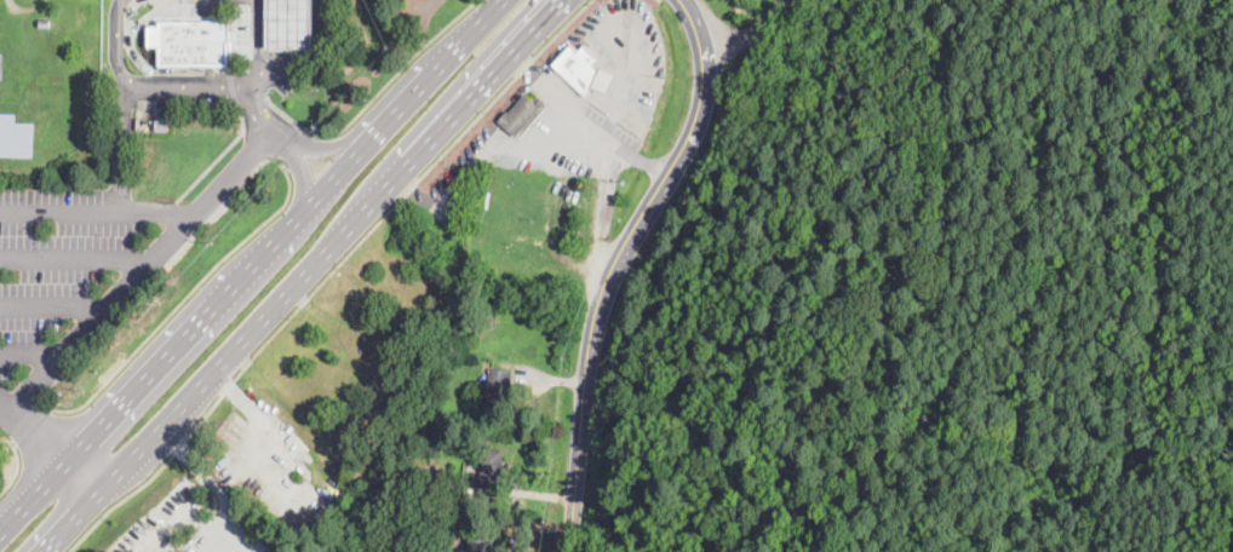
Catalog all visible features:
road: (494, 4)
road: (185, 7)
parking lot: (202, 8)
road: (130, 16)
building: (46, 23)
building: (292, 24)
parking lot: (245, 34)
road: (746, 34)
building: (194, 44)
road: (311, 52)
building: (2, 67)
road: (147, 67)
building: (577, 68)
road: (256, 70)
parking lot: (287, 77)
building: (604, 81)
road: (187, 84)
road: (234, 90)
road: (373, 94)
parking lot: (188, 97)
road: (124, 103)
road: (256, 113)
building: (521, 115)
road: (589, 117)
building: (164, 123)
building: (16, 137)
road: (297, 148)
road: (216, 157)
road: (97, 207)
road: (604, 211)
road: (168, 242)
parking lot: (57, 259)
road: (75, 260)
road: (250, 264)
road: (619, 265)
road: (302, 276)
road: (326, 276)
road: (183, 295)
road: (53, 307)
road: (374, 344)
building: (400, 345)
road: (31, 353)
building: (499, 387)
building: (407, 392)
road: (12, 407)
road: (30, 424)
road: (63, 453)
building: (386, 461)
road: (17, 465)
building: (491, 473)
road: (213, 481)
building: (401, 495)
building: (481, 541)
building: (363, 548)
building: (171, 551)

